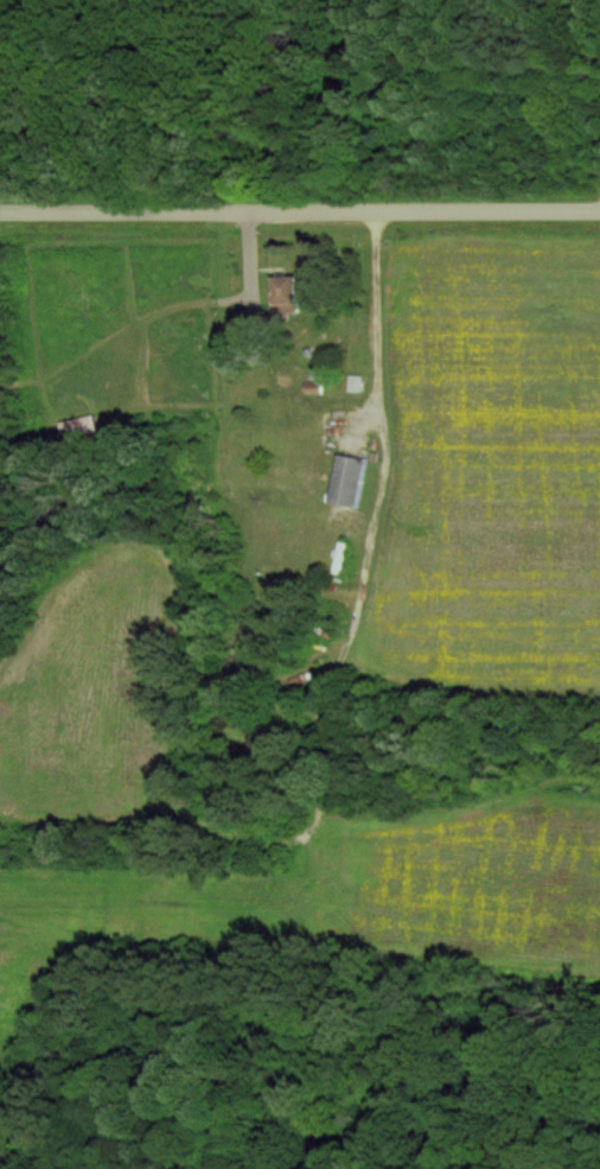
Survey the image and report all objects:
parking lot: (598, 191)
road: (300, 209)
building: (292, 292)
building: (83, 431)
building: (351, 479)

